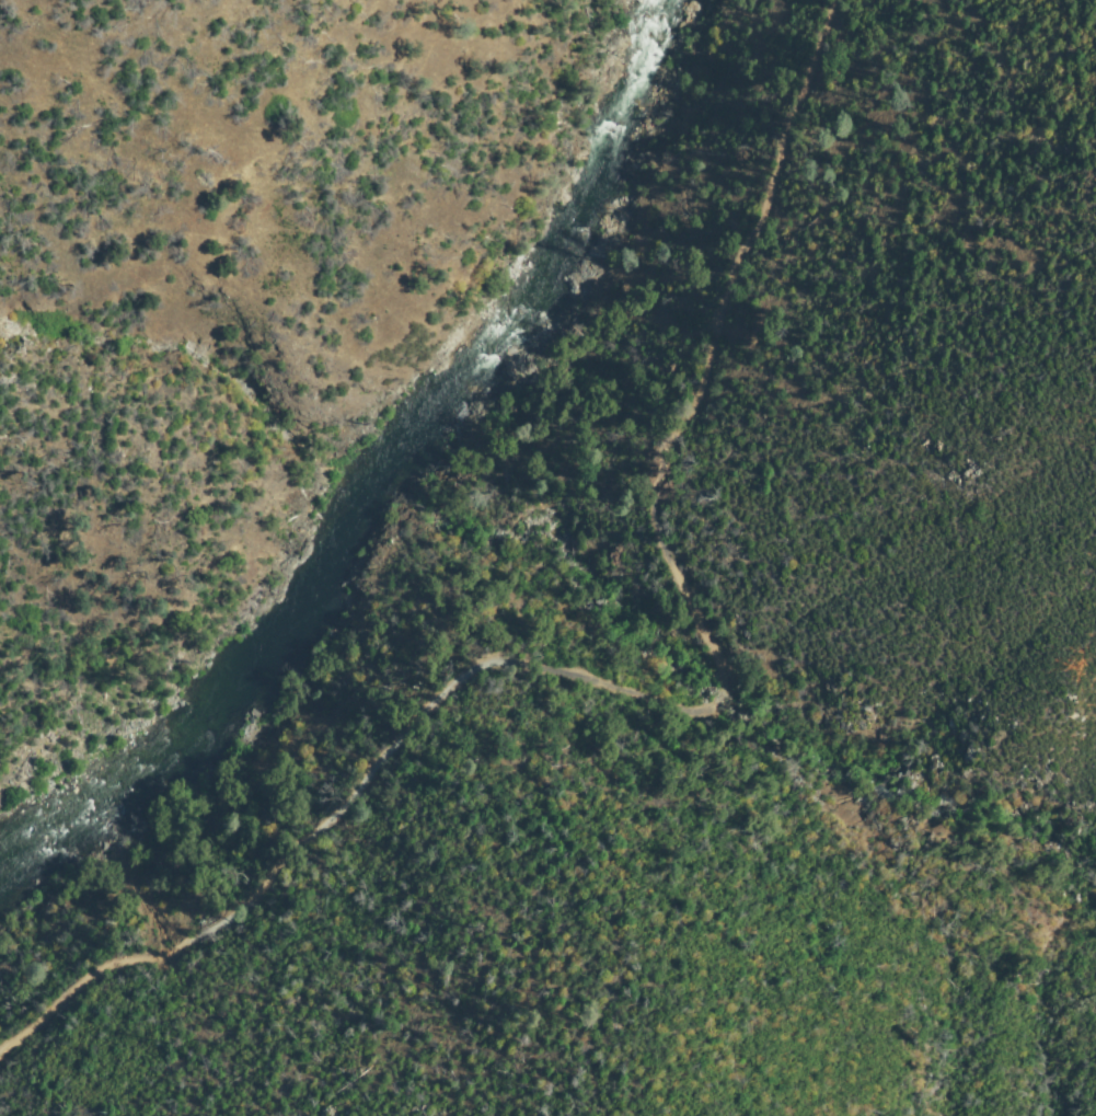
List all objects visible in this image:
river: (402, 471)
road: (696, 711)

